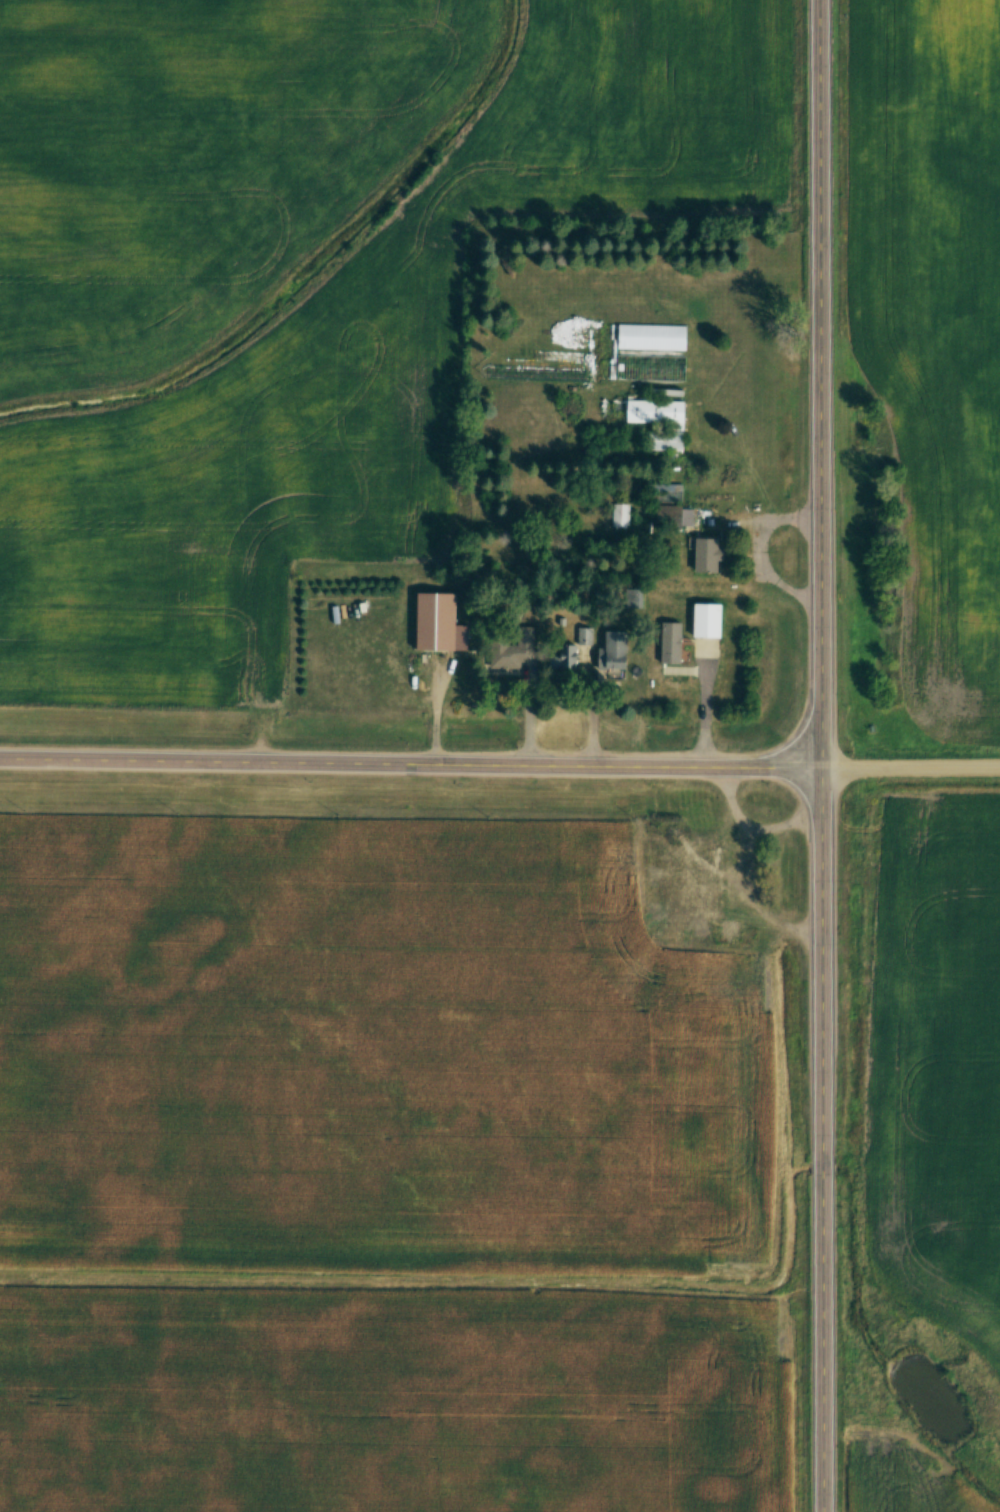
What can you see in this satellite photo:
building: (660, 424)
building: (664, 494)
building: (674, 518)
building: (709, 557)
building: (708, 622)
building: (437, 623)
building: (672, 645)
building: (615, 653)
building: (511, 654)
road: (823, 755)
road: (411, 767)
road: (912, 769)
road: (741, 877)
building: (688, 891)

